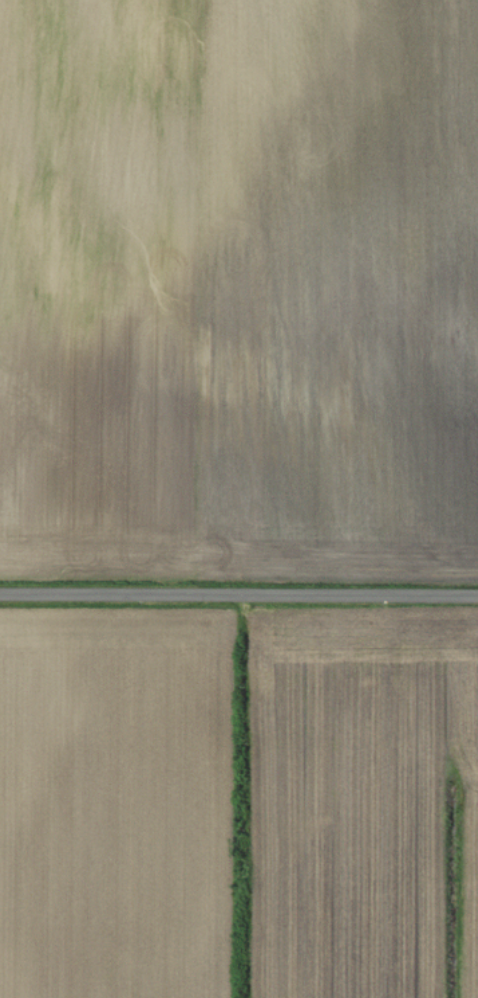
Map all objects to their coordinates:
road: (239, 589)

